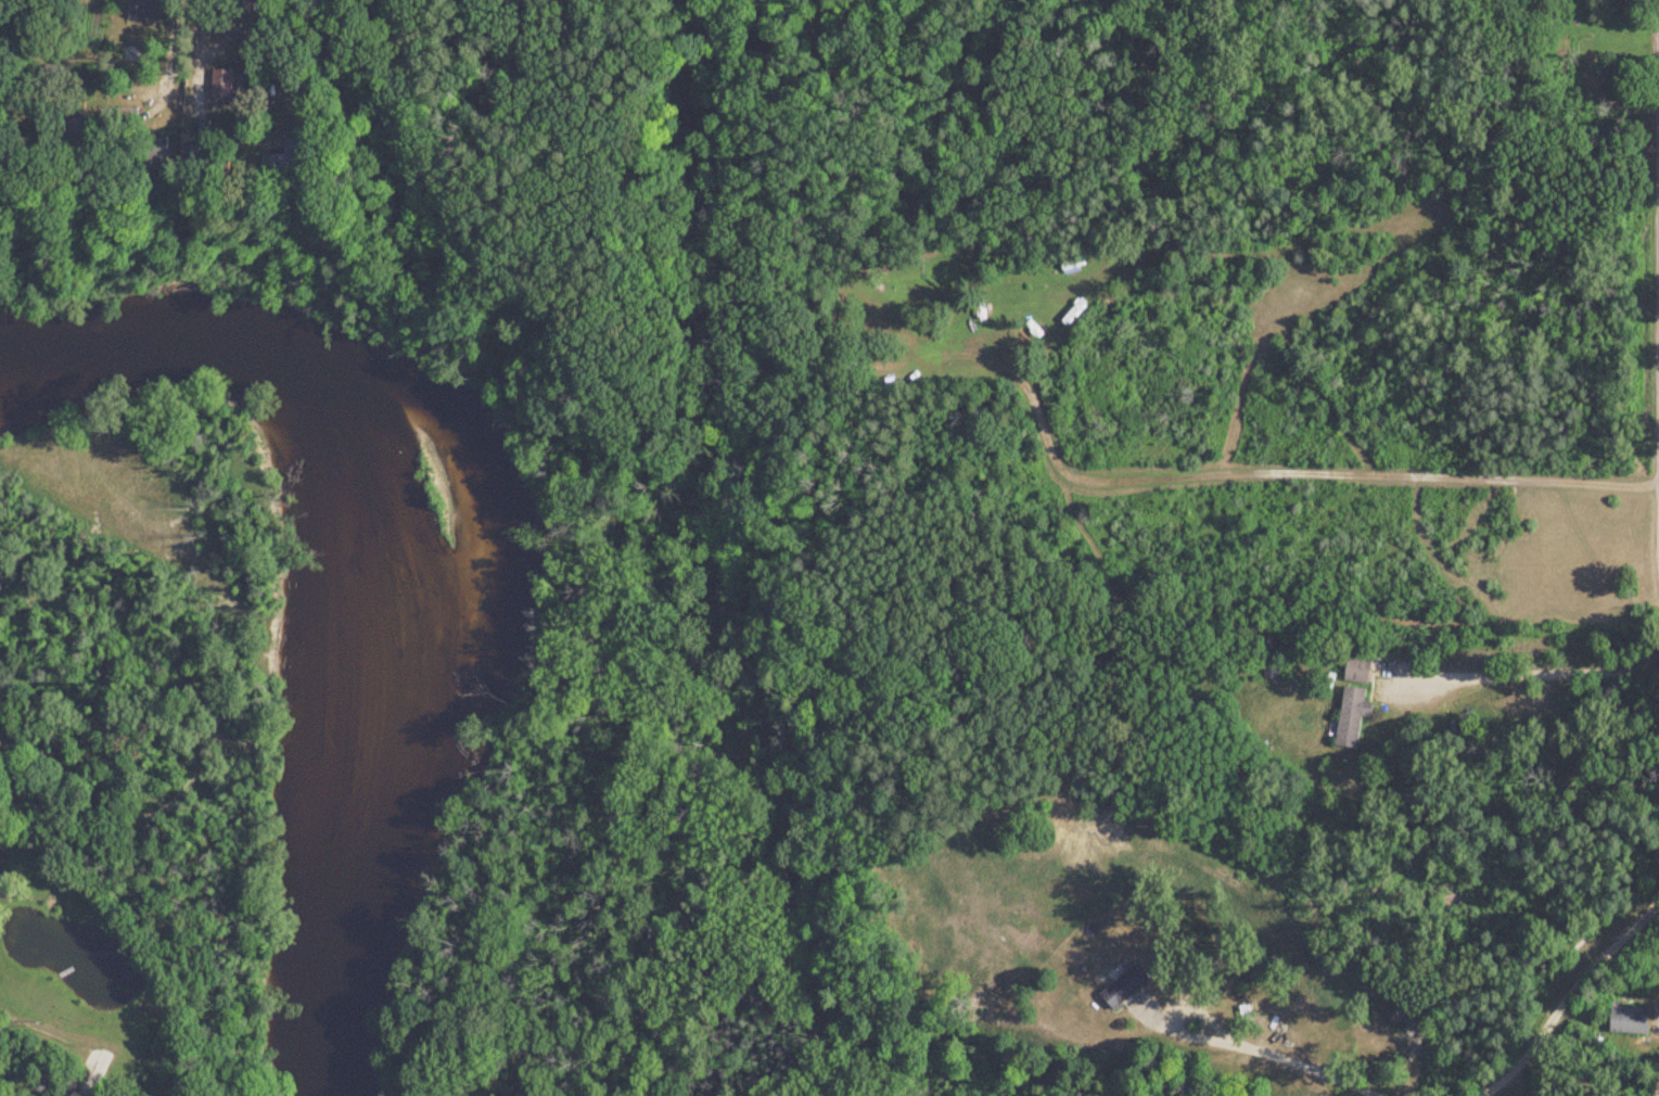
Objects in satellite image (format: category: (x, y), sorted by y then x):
road: (72, 16)
road: (201, 30)
building: (1071, 314)
road: (1287, 475)
river: (347, 581)
road: (1654, 663)
building: (1353, 670)
road: (1529, 671)
building: (1349, 716)
building: (1122, 987)
road: (1566, 997)
building: (1625, 1021)
road: (1260, 1054)
road: (1656, 1086)
building: (69, 1095)

